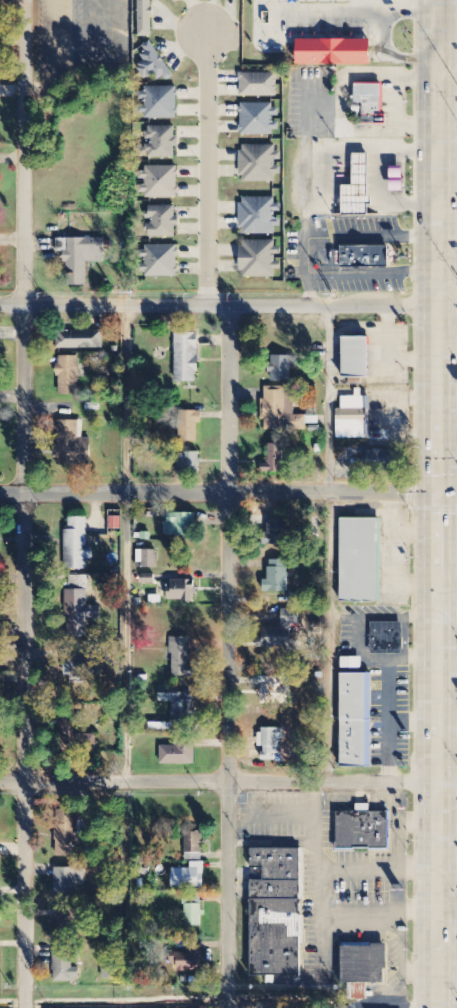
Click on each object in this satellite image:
building: (145, 18)
building: (335, 52)
building: (153, 64)
road: (448, 80)
building: (258, 85)
building: (369, 96)
building: (159, 103)
road: (448, 105)
building: (260, 119)
building: (161, 142)
building: (259, 164)
road: (208, 168)
building: (158, 182)
building: (356, 185)
building: (260, 216)
building: (159, 220)
building: (364, 255)
building: (80, 257)
building: (261, 258)
building: (158, 261)
road: (219, 304)
road: (448, 305)
building: (79, 340)
building: (355, 357)
building: (186, 358)
building: (282, 368)
building: (68, 376)
building: (279, 411)
building: (353, 418)
building: (191, 425)
building: (71, 443)
building: (274, 459)
building: (382, 459)
building: (188, 462)
road: (219, 493)
traffic signals: (440, 495)
road: (448, 495)
road: (25, 503)
road: (439, 503)
building: (114, 523)
building: (180, 525)
building: (277, 533)
building: (77, 545)
building: (359, 560)
building: (148, 565)
building: (277, 577)
building: (183, 591)
building: (79, 613)
building: (280, 631)
building: (387, 639)
road: (230, 655)
building: (181, 658)
building: (351, 663)
building: (77, 668)
building: (274, 692)
building: (178, 705)
building: (356, 720)
building: (76, 740)
building: (270, 743)
building: (177, 755)
road: (219, 786)
road: (448, 787)
building: (82, 823)
building: (363, 830)
building: (66, 834)
building: (193, 846)
building: (189, 877)
building: (68, 883)
building: (193, 911)
building: (277, 913)
building: (67, 922)
building: (186, 962)
building: (65, 968)
building: (363, 968)
building: (263, 1007)

